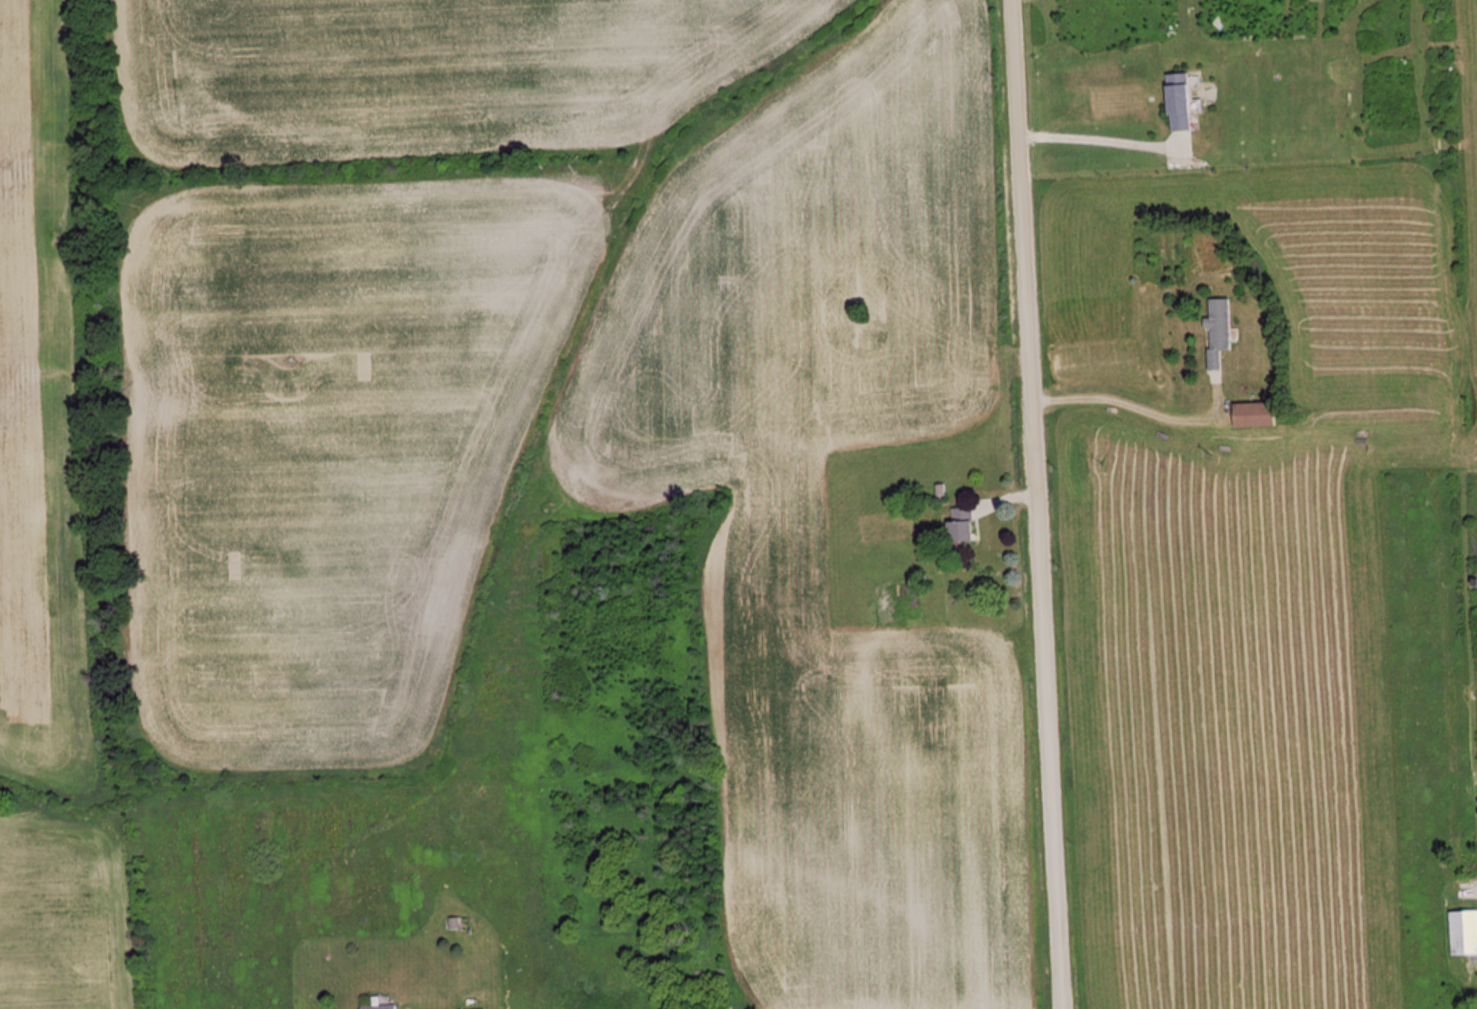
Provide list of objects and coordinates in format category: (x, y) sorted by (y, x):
building: (1176, 103)
building: (1218, 332)
building: (1252, 416)
road: (1034, 504)
building: (959, 524)
building: (1463, 933)
building: (377, 1007)

